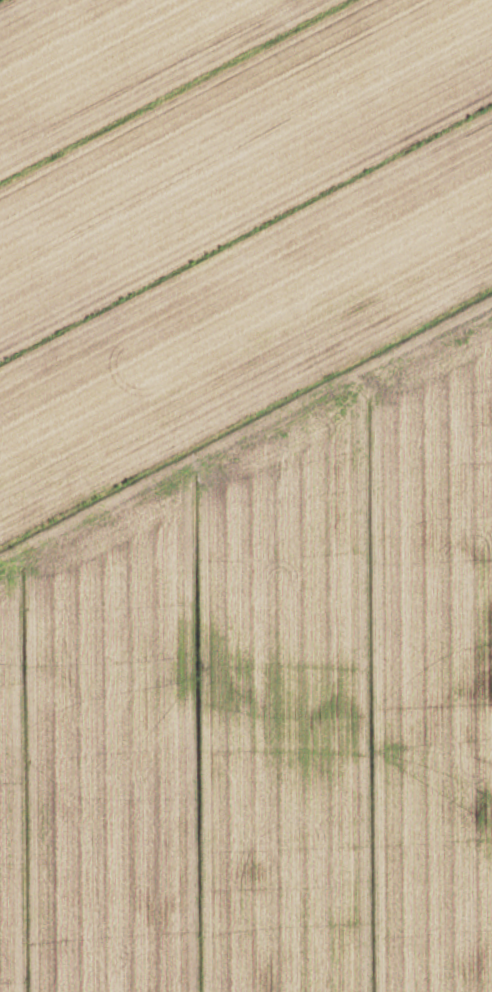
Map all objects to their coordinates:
crop: (246, 496)

